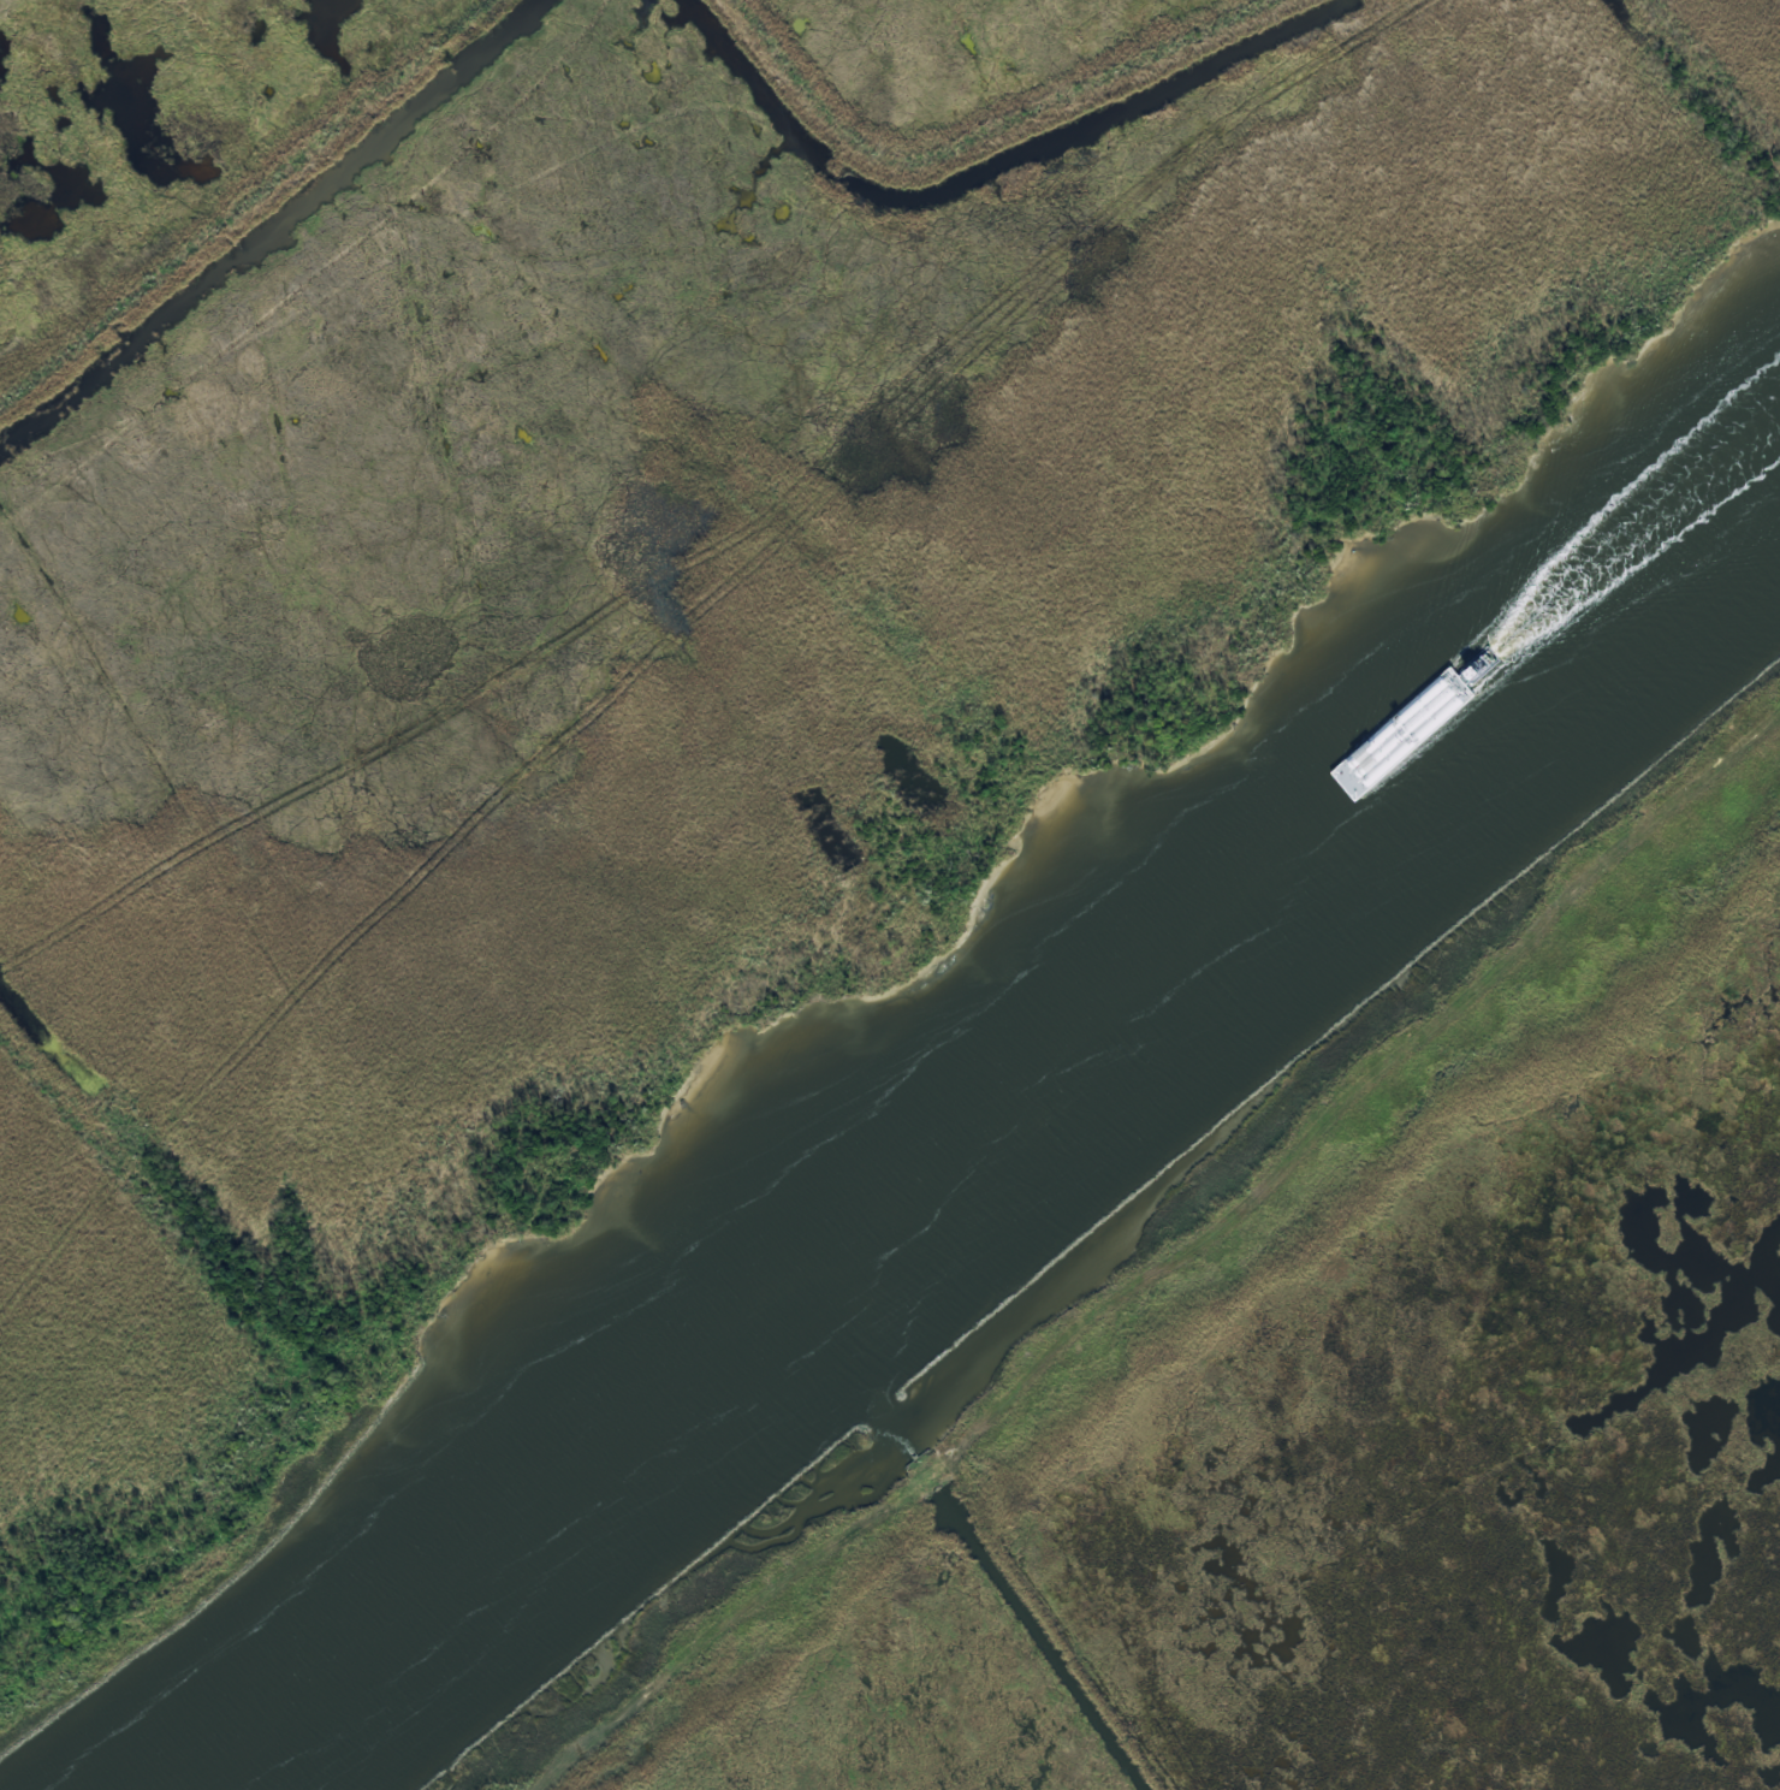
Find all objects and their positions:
road: (1147, 1257)

